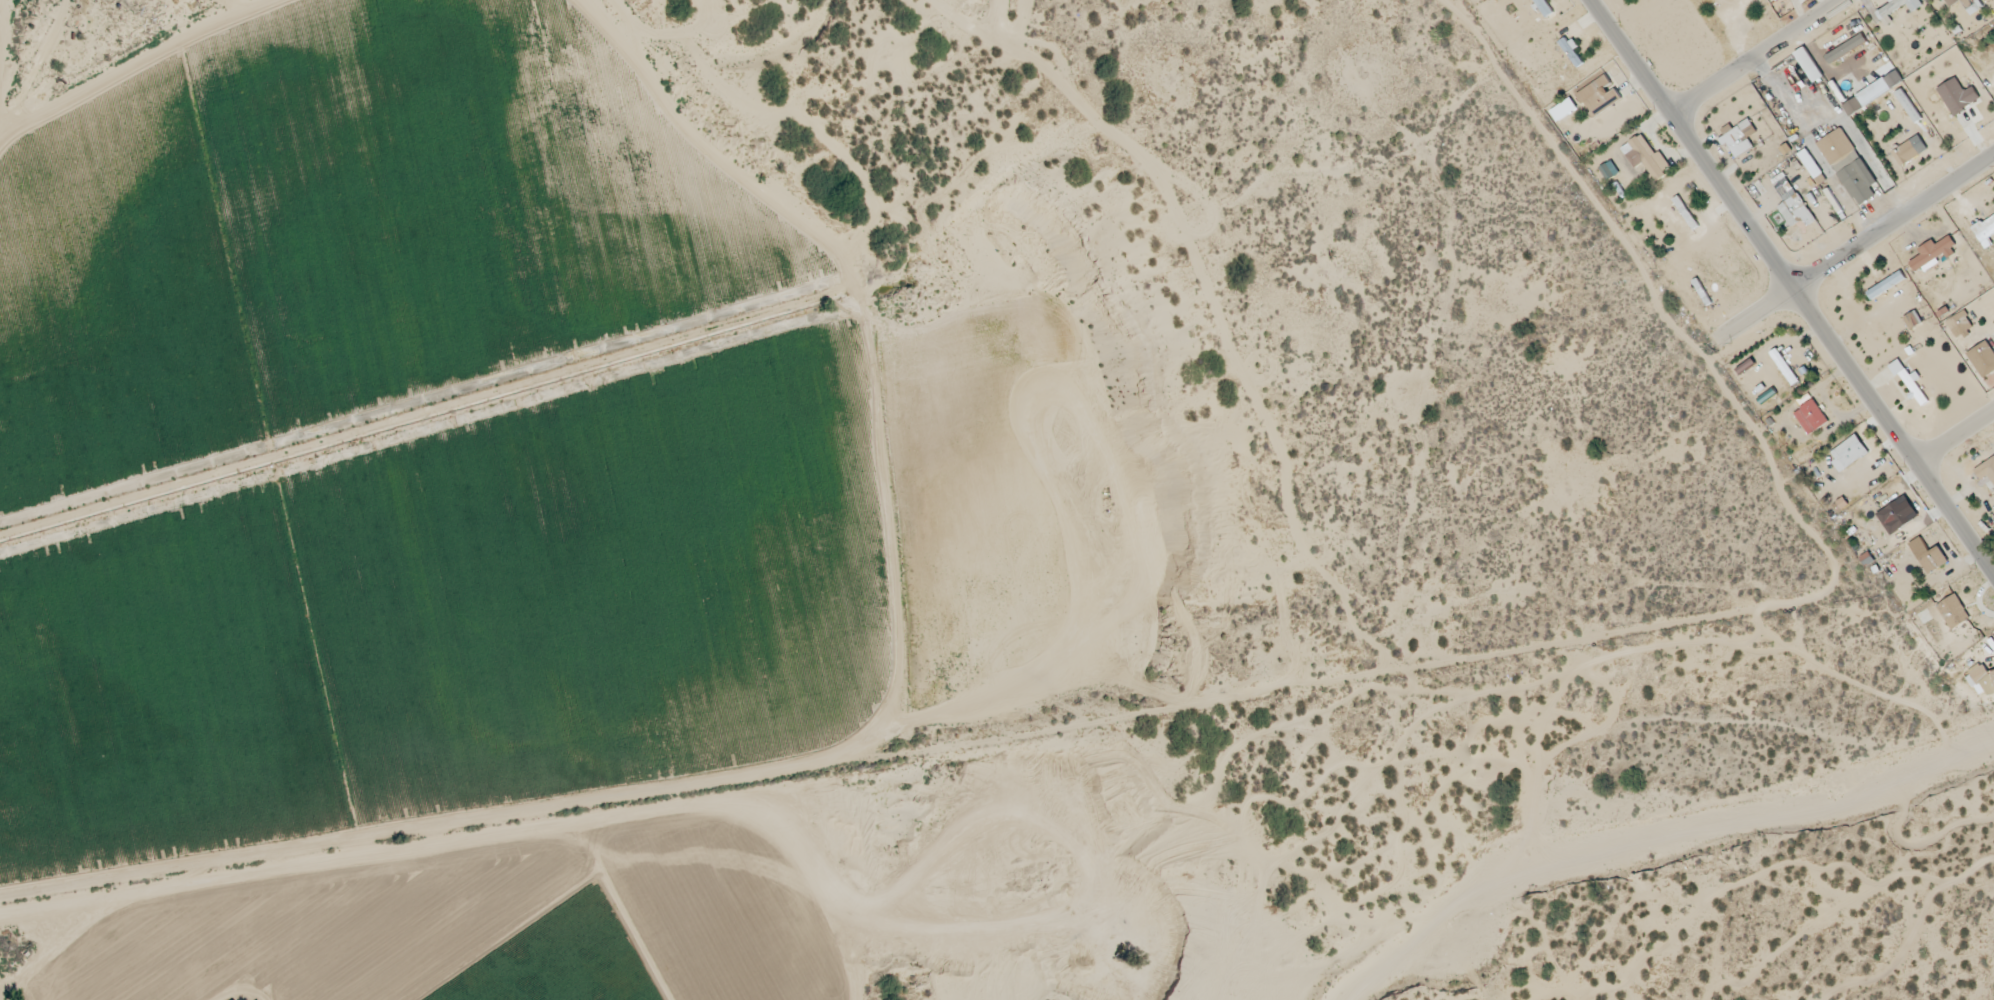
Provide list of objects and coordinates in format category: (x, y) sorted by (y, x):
building: (1776, 0)
building: (1952, 4)
building: (1543, 7)
building: (1896, 9)
road: (1739, 49)
building: (1845, 49)
building: (1570, 53)
building: (1809, 65)
building: (1872, 93)
building: (1599, 96)
building: (1957, 96)
building: (1738, 138)
building: (1837, 150)
building: (1909, 151)
building: (1646, 157)
building: (1810, 163)
building: (1609, 171)
building: (1860, 176)
building: (1792, 205)
road: (1853, 229)
building: (1985, 231)
building: (1932, 255)
building: (1885, 285)
road: (1793, 286)
building: (1912, 320)
building: (1960, 324)
building: (1982, 359)
building: (1745, 367)
building: (1784, 367)
building: (1907, 381)
building: (1811, 417)
road: (1952, 425)
building: (1848, 453)
building: (1986, 471)
building: (1898, 515)
building: (1933, 561)
building: (1953, 612)
building: (1981, 681)

